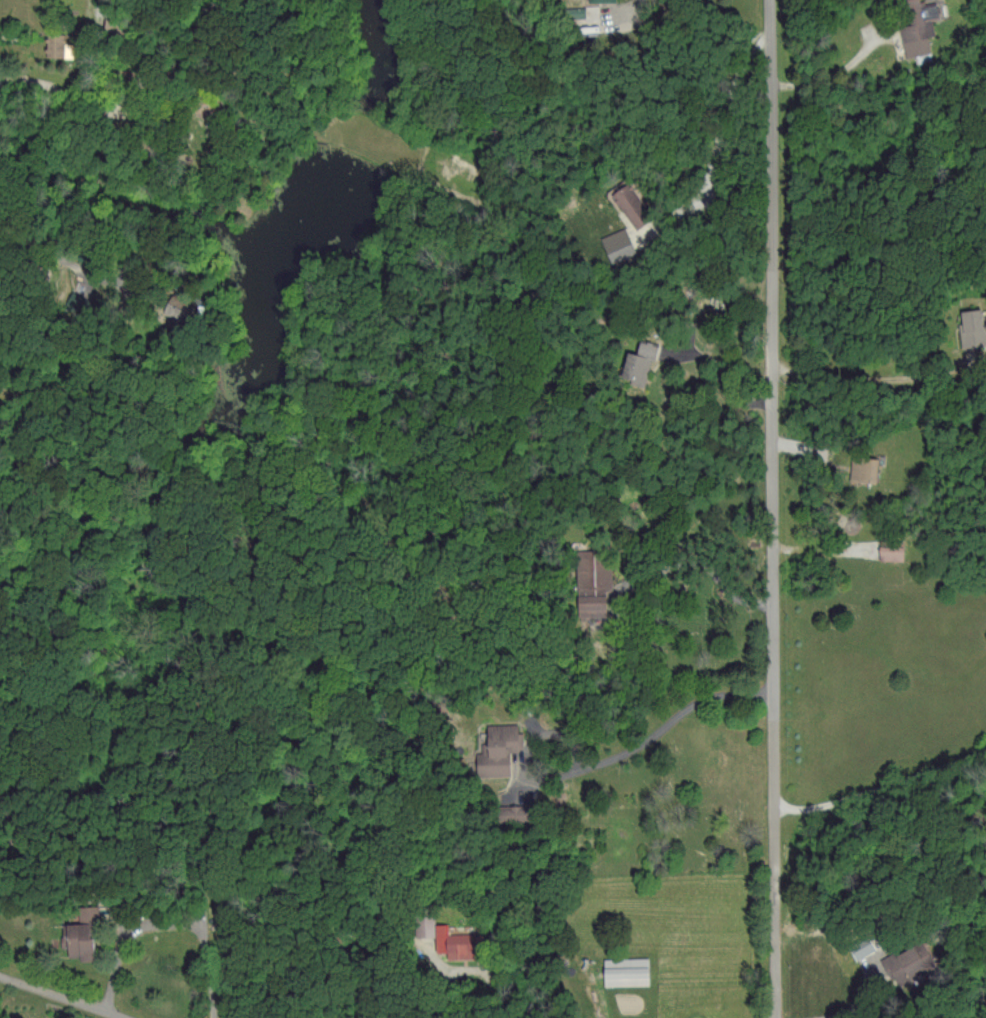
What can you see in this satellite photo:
building: (915, 27)
road: (840, 78)
road: (88, 110)
road: (718, 184)
building: (616, 244)
road: (85, 269)
building: (968, 327)
building: (635, 360)
road: (875, 378)
road: (725, 381)
building: (859, 469)
road: (771, 509)
road: (700, 587)
road: (648, 743)
building: (493, 751)
road: (880, 795)
building: (422, 920)
road: (164, 932)
building: (76, 940)
building: (447, 941)
building: (857, 946)
building: (902, 963)
road: (472, 968)
building: (621, 970)
road: (862, 998)
road: (49, 999)

